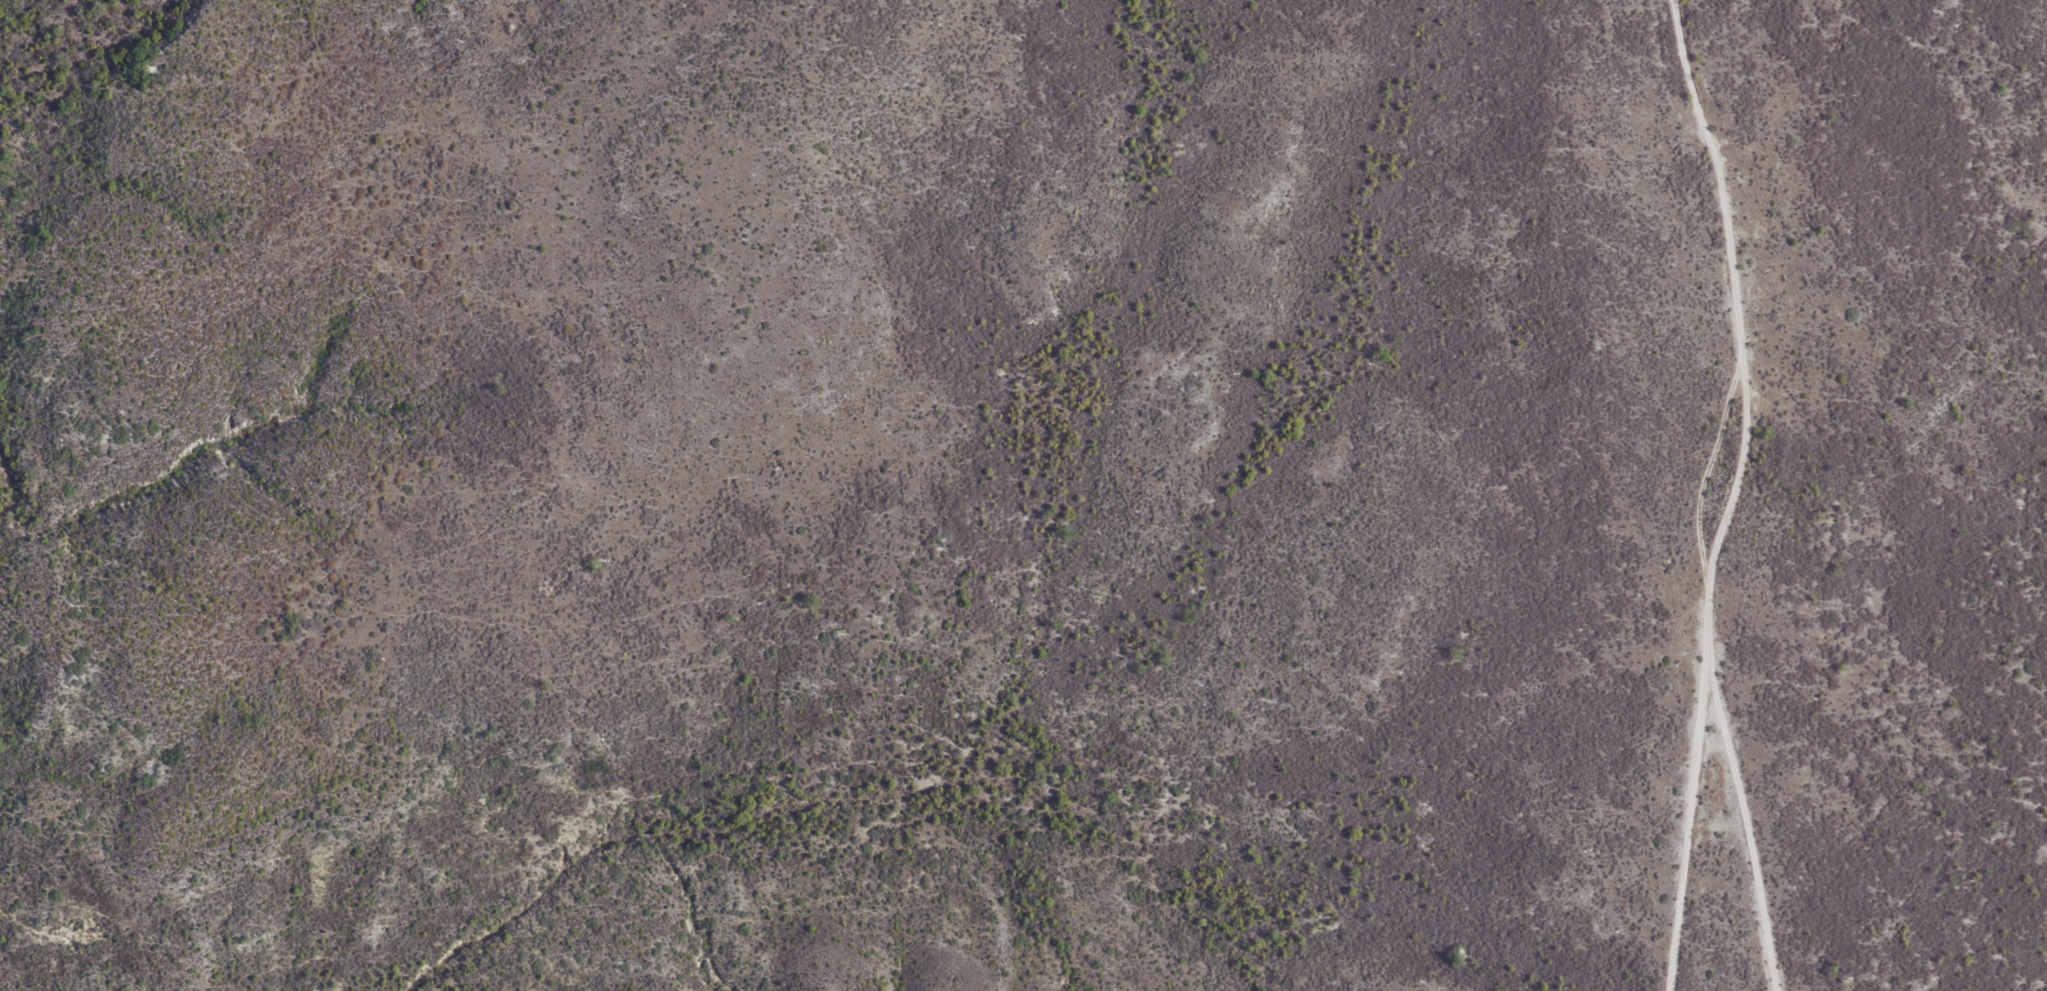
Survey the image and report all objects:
road: (1739, 495)
road: (1752, 831)

